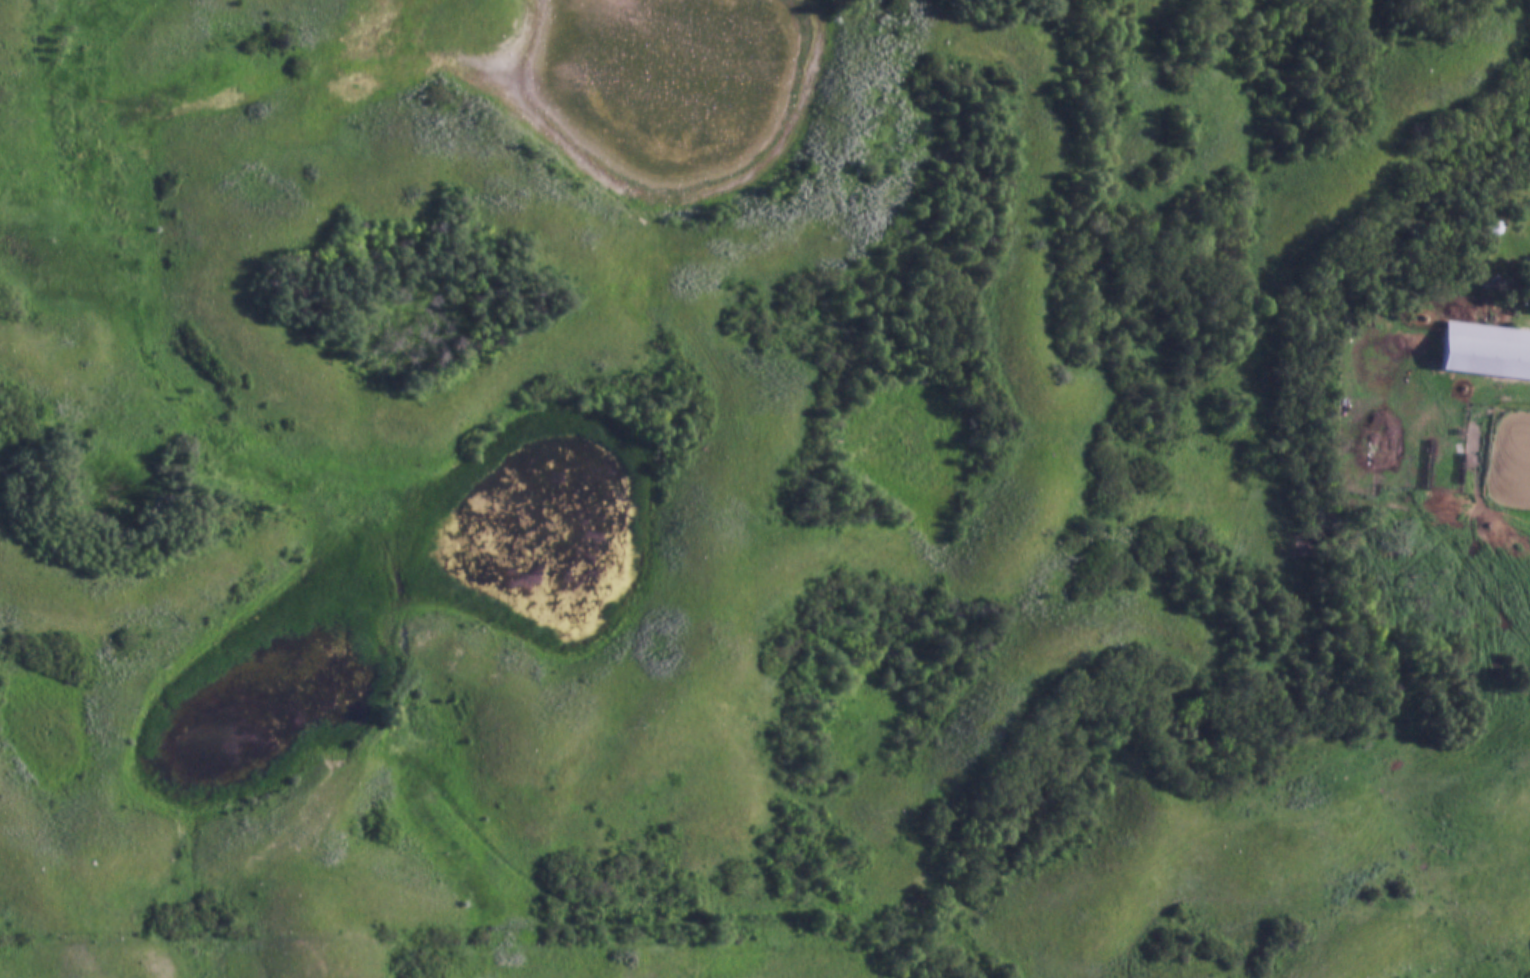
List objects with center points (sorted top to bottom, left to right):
building: (1488, 350)

